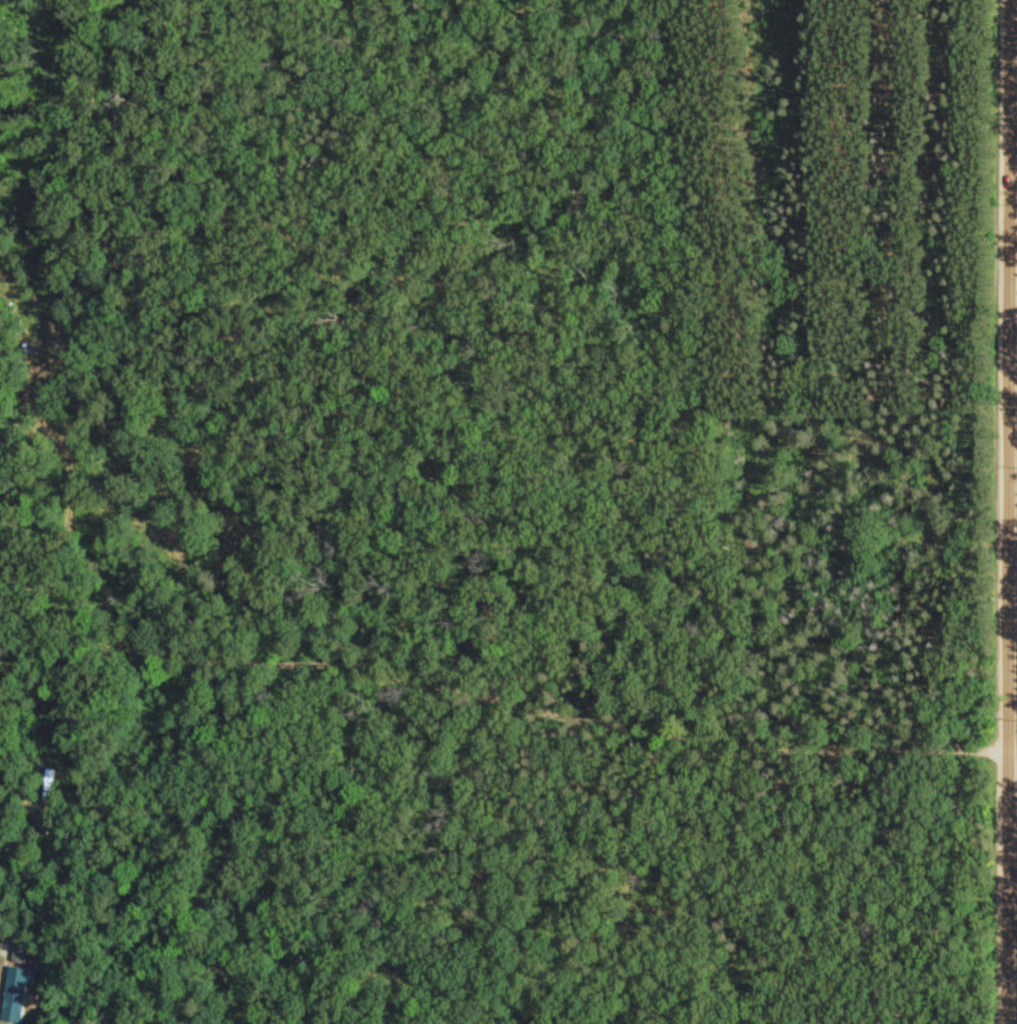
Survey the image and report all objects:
road: (1012, 378)
road: (505, 691)
building: (55, 784)
road: (1010, 890)
building: (20, 982)

